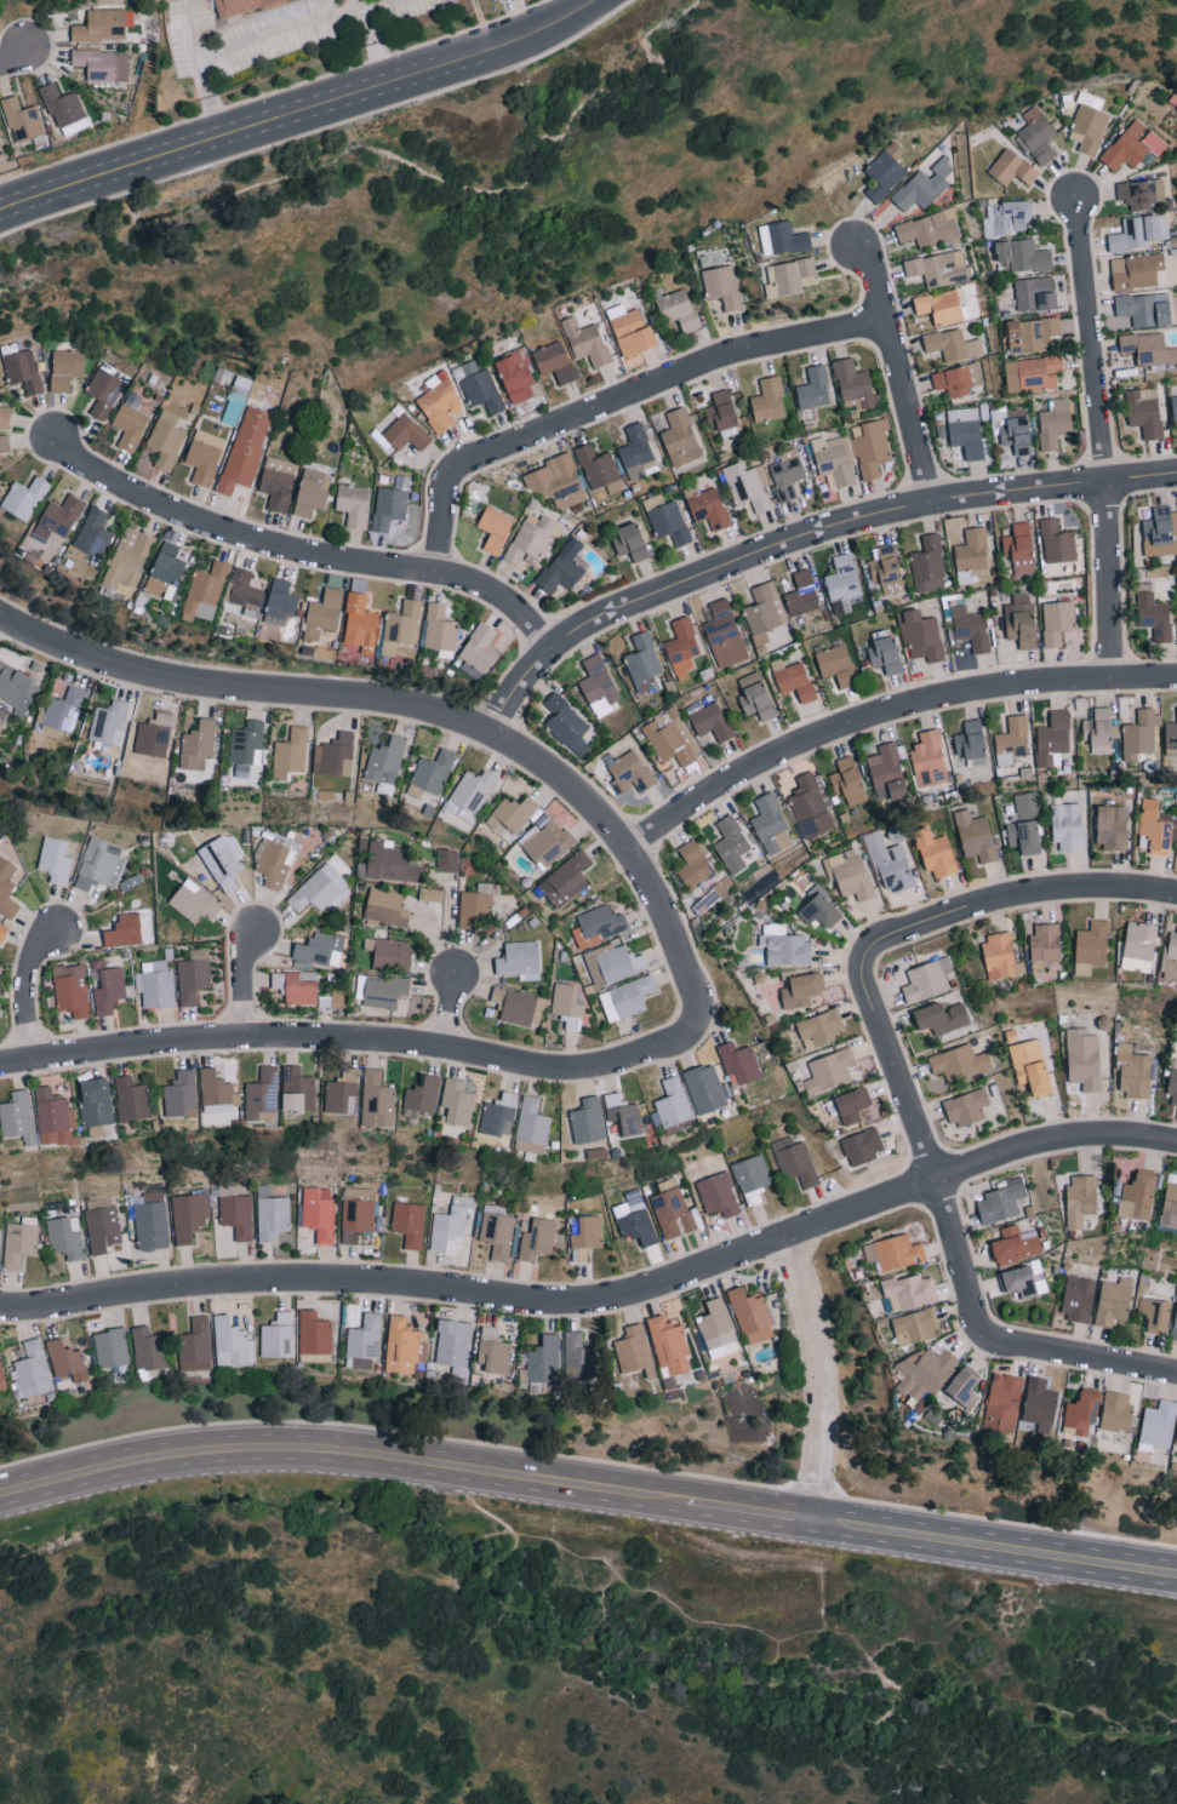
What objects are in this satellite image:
road: (379, 5)
building: (240, 6)
building: (101, 27)
road: (280, 36)
road: (371, 40)
road: (12, 55)
building: (102, 64)
road: (199, 68)
building: (63, 109)
road: (296, 109)
building: (22, 120)
building: (1089, 124)
building: (1038, 137)
building: (1132, 145)
building: (1011, 167)
building: (885, 171)
building: (922, 187)
building: (1139, 193)
building: (1006, 218)
building: (929, 229)
building: (1138, 233)
building: (782, 239)
building: (1023, 256)
building: (938, 268)
building: (1136, 270)
building: (789, 277)
building: (720, 287)
building: (1035, 294)
building: (939, 307)
building: (1145, 309)
building: (679, 310)
building: (632, 331)
building: (1032, 334)
building: (585, 342)
building: (952, 345)
building: (1148, 348)
building: (554, 362)
building: (65, 368)
building: (22, 371)
road: (901, 371)
building: (1039, 373)
building: (518, 377)
building: (955, 380)
building: (855, 384)
building: (478, 388)
building: (815, 389)
building: (103, 393)
road: (621, 400)
building: (767, 401)
building: (439, 402)
building: (1175, 407)
building: (721, 412)
building: (1144, 412)
building: (5, 416)
building: (130, 423)
building: (1053, 424)
building: (965, 431)
building: (1016, 431)
building: (406, 434)
building: (680, 439)
road: (1103, 439)
building: (165, 440)
building: (4, 443)
building: (870, 447)
building: (245, 449)
building: (636, 451)
building: (833, 460)
building: (202, 462)
building: (0, 464)
building: (599, 469)
building: (785, 474)
building: (556, 481)
building: (278, 482)
building: (748, 486)
building: (312, 492)
building: (24, 498)
building: (354, 505)
building: (705, 506)
building: (388, 508)
building: (58, 517)
building: (665, 520)
building: (495, 529)
building: (1159, 532)
building: (93, 533)
building: (531, 539)
road: (806, 542)
building: (1057, 543)
building: (1019, 548)
road: (308, 552)
building: (971, 556)
building: (127, 561)
building: (927, 566)
building: (562, 567)
building: (886, 569)
building: (165, 571)
building: (841, 584)
building: (244, 589)
building: (204, 592)
building: (801, 595)
building: (280, 603)
building: (764, 612)
building: (324, 614)
building: (1153, 615)
building: (1021, 620)
building: (1057, 623)
building: (361, 624)
building: (400, 626)
building: (439, 629)
building: (970, 629)
building: (724, 635)
building: (920, 635)
building: (681, 648)
building: (479, 652)
building: (886, 655)
building: (642, 663)
building: (836, 665)
building: (793, 680)
building: (599, 685)
building: (17, 688)
building: (755, 695)
road: (419, 706)
building: (0, 708)
building: (59, 712)
road: (886, 712)
building: (1, 721)
building: (710, 721)
building: (108, 722)
building: (566, 725)
building: (1099, 729)
building: (1139, 733)
building: (153, 734)
building: (669, 737)
building: (1052, 737)
building: (1171, 737)
building: (1011, 740)
building: (971, 741)
building: (198, 744)
building: (245, 746)
building: (290, 752)
building: (335, 755)
building: (929, 758)
building: (384, 761)
building: (430, 773)
building: (629, 773)
building: (886, 773)
building: (849, 779)
building: (810, 806)
building: (512, 813)
building: (771, 824)
building: (1025, 825)
building: (1067, 825)
building: (1112, 826)
building: (1154, 826)
building: (976, 836)
building: (544, 841)
building: (731, 843)
building: (937, 854)
building: (55, 859)
building: (274, 859)
building: (447, 859)
building: (393, 863)
building: (889, 863)
building: (693, 864)
building: (99, 865)
building: (224, 865)
building: (849, 872)
building: (565, 878)
building: (6, 888)
building: (319, 889)
building: (430, 894)
road: (1016, 895)
building: (194, 903)
building: (385, 906)
building: (819, 907)
building: (473, 910)
building: (599, 924)
building: (2, 930)
building: (124, 930)
building: (784, 945)
building: (1091, 946)
building: (1139, 946)
building: (319, 949)
building: (389, 952)
building: (1000, 956)
building: (520, 960)
building: (1170, 960)
building: (615, 962)
building: (193, 975)
building: (927, 979)
road: (250, 983)
building: (156, 985)
building: (295, 987)
building: (801, 989)
building: (70, 990)
building: (108, 990)
building: (381, 990)
road: (30, 993)
building: (627, 997)
building: (515, 1004)
road: (459, 1006)
building: (566, 1006)
building: (942, 1016)
building: (819, 1027)
road: (362, 1040)
building: (1082, 1059)
building: (961, 1063)
building: (739, 1064)
building: (1030, 1065)
building: (829, 1071)
building: (1135, 1073)
building: (1172, 1086)
building: (705, 1088)
building: (297, 1089)
building: (341, 1092)
building: (181, 1093)
building: (422, 1094)
building: (262, 1096)
building: (131, 1099)
building: (217, 1099)
building: (377, 1099)
building: (95, 1101)
building: (457, 1101)
building: (673, 1103)
building: (851, 1105)
building: (966, 1107)
building: (498, 1115)
building: (623, 1115)
building: (17, 1117)
building: (53, 1118)
building: (587, 1121)
building: (531, 1126)
building: (862, 1146)
road: (924, 1147)
building: (795, 1161)
building: (752, 1179)
building: (358, 1192)
building: (718, 1195)
building: (1137, 1197)
building: (1080, 1198)
building: (1170, 1201)
building: (1001, 1202)
building: (319, 1212)
building: (674, 1213)
building: (270, 1214)
building: (236, 1215)
building: (188, 1216)
building: (150, 1221)
building: (356, 1221)
building: (408, 1222)
building: (450, 1222)
building: (634, 1222)
building: (101, 1229)
building: (497, 1233)
building: (64, 1237)
building: (584, 1238)
building: (537, 1239)
building: (18, 1243)
building: (1015, 1244)
building: (893, 1253)
building: (1022, 1279)
building: (909, 1292)
building: (1078, 1299)
road: (600, 1300)
building: (1114, 1301)
building: (1155, 1313)
building: (750, 1316)
building: (1175, 1325)
building: (914, 1327)
building: (718, 1329)
building: (313, 1335)
building: (276, 1336)
building: (362, 1342)
building: (232, 1344)
building: (195, 1345)
building: (400, 1345)
building: (669, 1345)
building: (453, 1346)
building: (112, 1347)
building: (149, 1348)
building: (492, 1351)
building: (634, 1351)
road: (1084, 1356)
building: (577, 1357)
building: (67, 1361)
building: (543, 1361)
building: (30, 1370)
building: (924, 1373)
road: (828, 1374)
building: (1, 1381)
building: (965, 1385)
building: (1004, 1403)
building: (1040, 1404)
building: (1116, 1411)
building: (1082, 1413)
building: (1158, 1425)
building: (1176, 1442)
road: (350, 1451)
road: (760, 1511)
road: (996, 1547)

